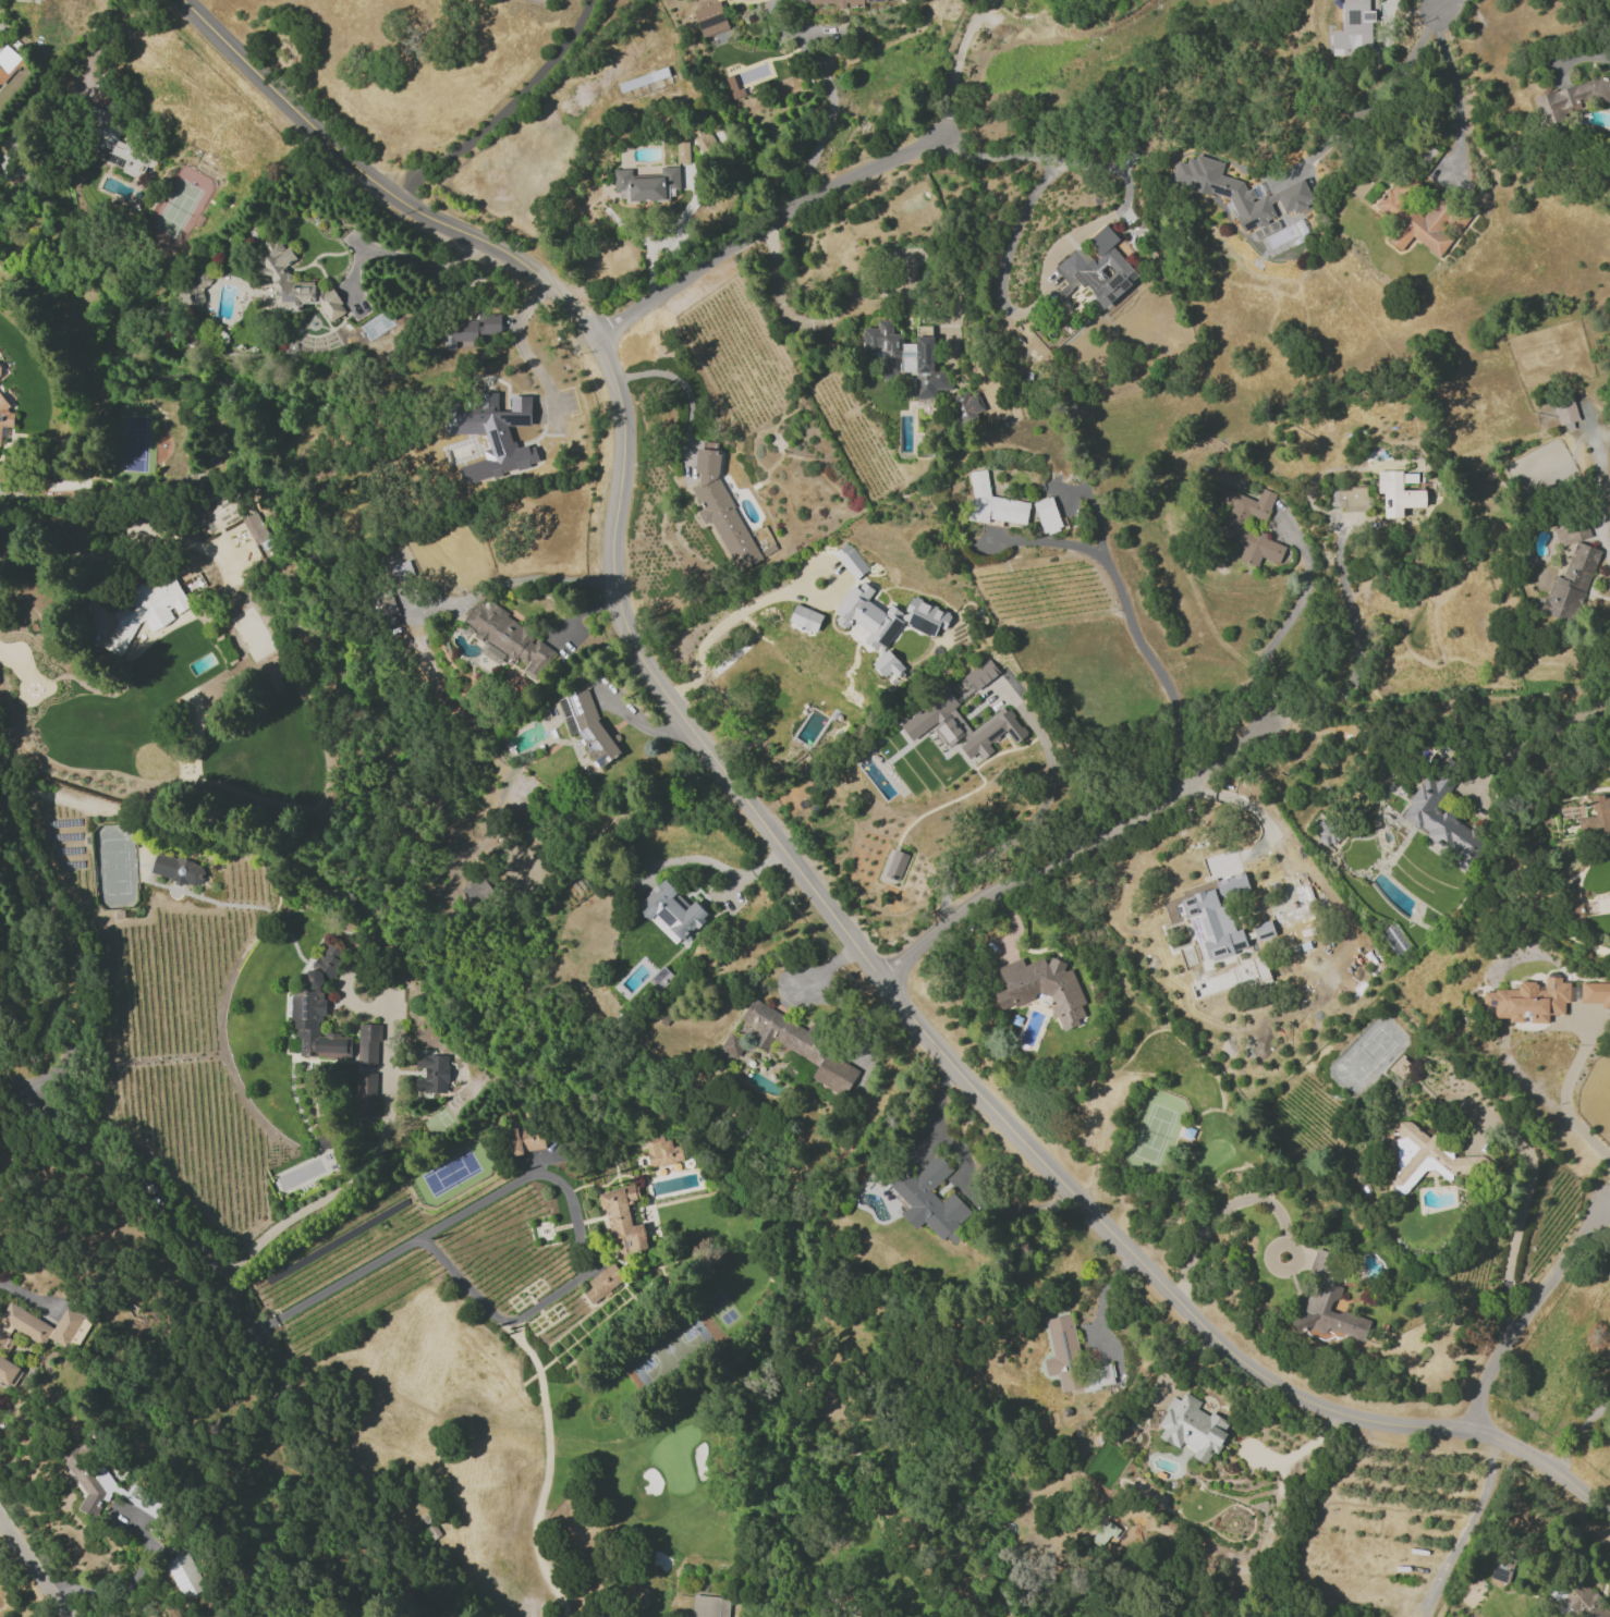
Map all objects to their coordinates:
building: (838, 2)
road: (1443, 4)
building: (713, 20)
building: (1356, 24)
road: (113, 35)
road: (1575, 56)
building: (8, 62)
road: (955, 64)
building: (642, 78)
road: (1375, 86)
building: (732, 87)
road: (1459, 88)
building: (1571, 98)
road: (831, 105)
road: (502, 109)
building: (117, 144)
building: (11, 168)
building: (646, 184)
building: (1237, 191)
building: (1419, 220)
road: (763, 228)
road: (1071, 233)
road: (395, 256)
building: (1096, 269)
building: (281, 282)
road: (841, 317)
building: (469, 329)
building: (906, 356)
road: (529, 373)
road: (684, 388)
building: (965, 406)
building: (1564, 409)
building: (4, 414)
building: (491, 430)
building: (0, 473)
building: (1396, 493)
building: (1353, 499)
road: (1599, 499)
building: (996, 503)
building: (725, 513)
building: (1050, 516)
building: (1232, 524)
building: (258, 532)
road: (119, 538)
building: (850, 561)
building: (1570, 572)
road: (749, 604)
building: (144, 610)
building: (805, 617)
road: (1288, 621)
building: (887, 623)
road: (1131, 623)
building: (507, 638)
road: (1355, 649)
building: (979, 674)
road: (1436, 699)
building: (586, 723)
building: (961, 725)
road: (1539, 736)
building: (1596, 816)
road: (1028, 821)
building: (1442, 822)
road: (1267, 829)
building: (1326, 832)
road: (780, 846)
road: (1071, 850)
road: (712, 862)
building: (895, 865)
park: (115, 867)
building: (179, 871)
building: (1231, 885)
building: (476, 892)
building: (672, 914)
building: (1210, 926)
building: (1263, 930)
road: (70, 959)
building: (1259, 967)
building: (1041, 988)
building: (1595, 993)
building: (316, 1009)
building: (1541, 1009)
building: (367, 1043)
building: (732, 1044)
building: (800, 1046)
building: (1399, 1066)
building: (365, 1093)
road: (1562, 1095)
building: (525, 1139)
building: (660, 1151)
road: (366, 1163)
park: (449, 1174)
road: (968, 1177)
road: (1606, 1198)
building: (930, 1201)
road: (1223, 1206)
building: (623, 1223)
road: (1515, 1227)
road: (422, 1234)
road: (1, 1283)
building: (602, 1283)
road: (1100, 1295)
building: (1327, 1300)
road: (1526, 1312)
road: (246, 1322)
building: (42, 1327)
building: (1072, 1359)
building: (7, 1370)
building: (1191, 1426)
road: (1576, 1433)
building: (107, 1487)
building: (1102, 1533)
road: (34, 1566)
building: (1502, 1567)
building: (184, 1575)
road: (129, 1584)
building: (709, 1606)

